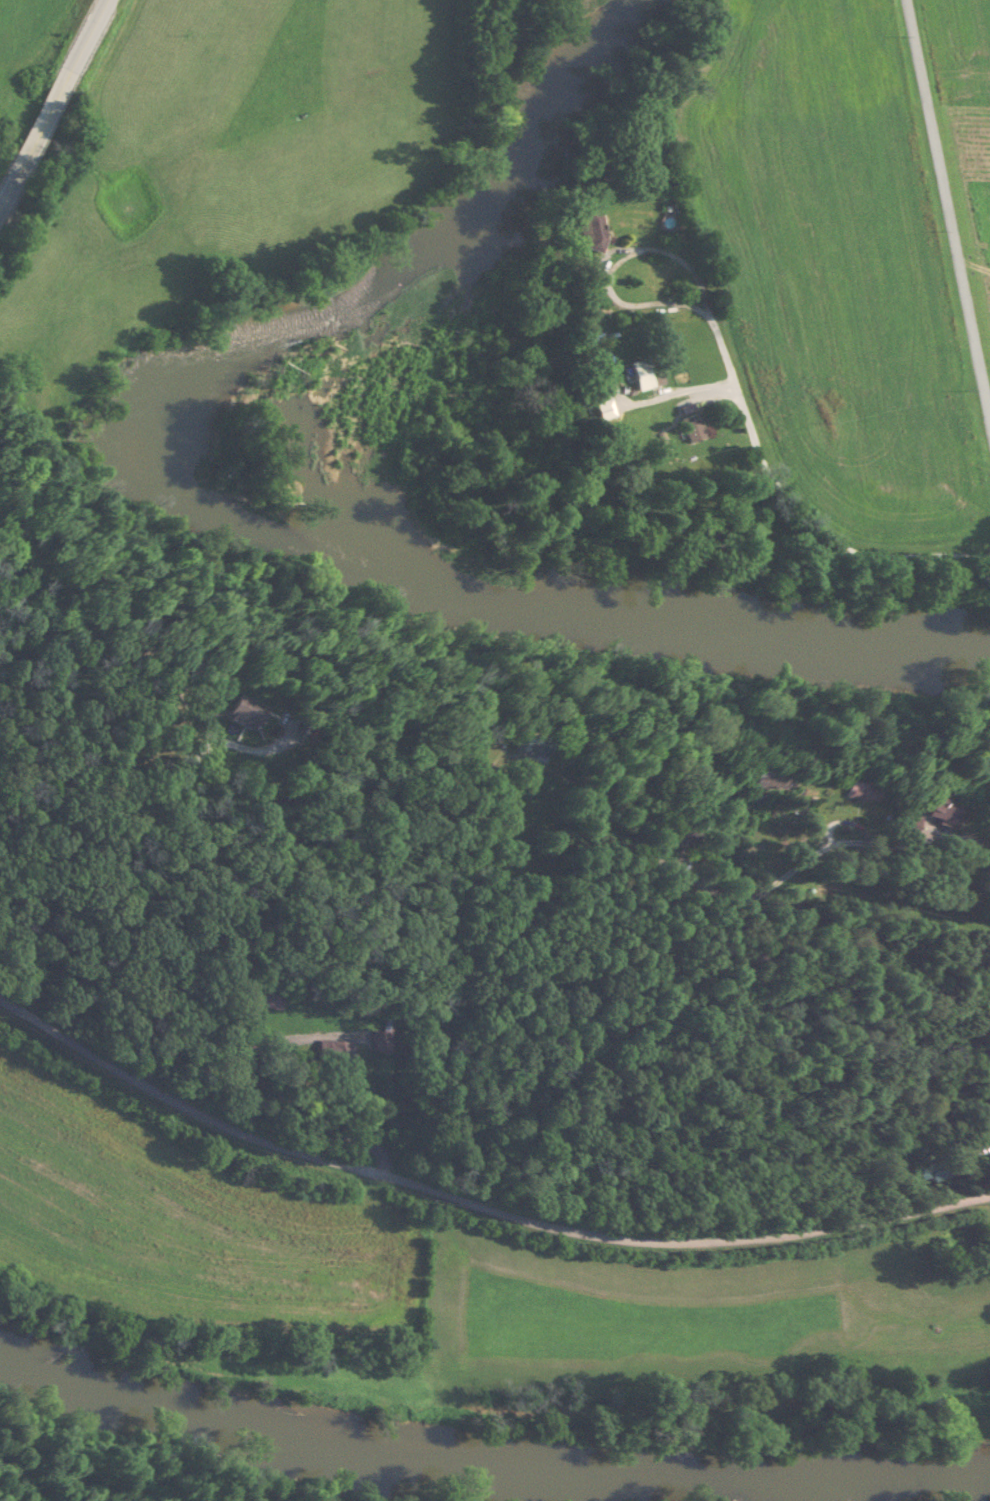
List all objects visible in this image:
road: (53, 98)
road: (949, 208)
building: (589, 237)
building: (640, 380)
building: (689, 424)
road: (771, 479)
river: (392, 527)
building: (850, 790)
building: (928, 811)
road: (774, 850)
building: (934, 1169)
road: (476, 1201)
river: (488, 1369)

